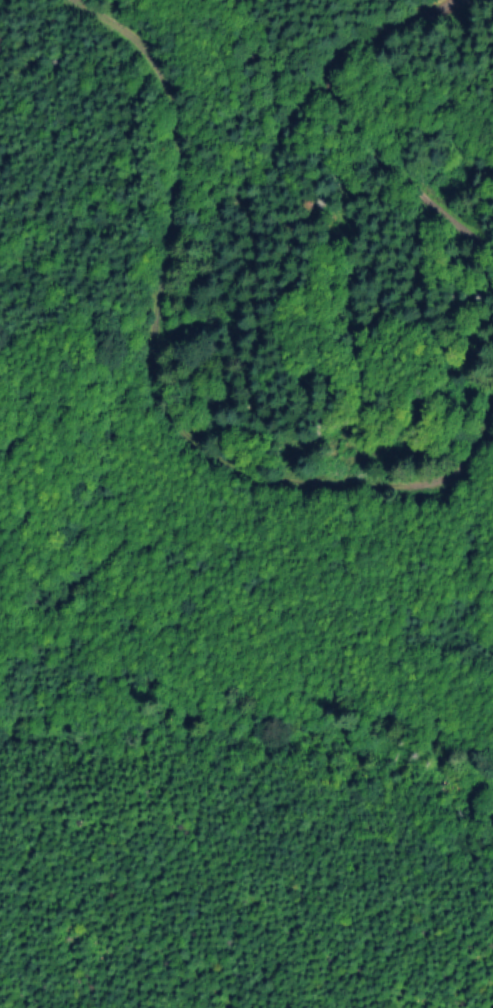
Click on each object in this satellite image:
road: (269, 186)
road: (257, 413)

